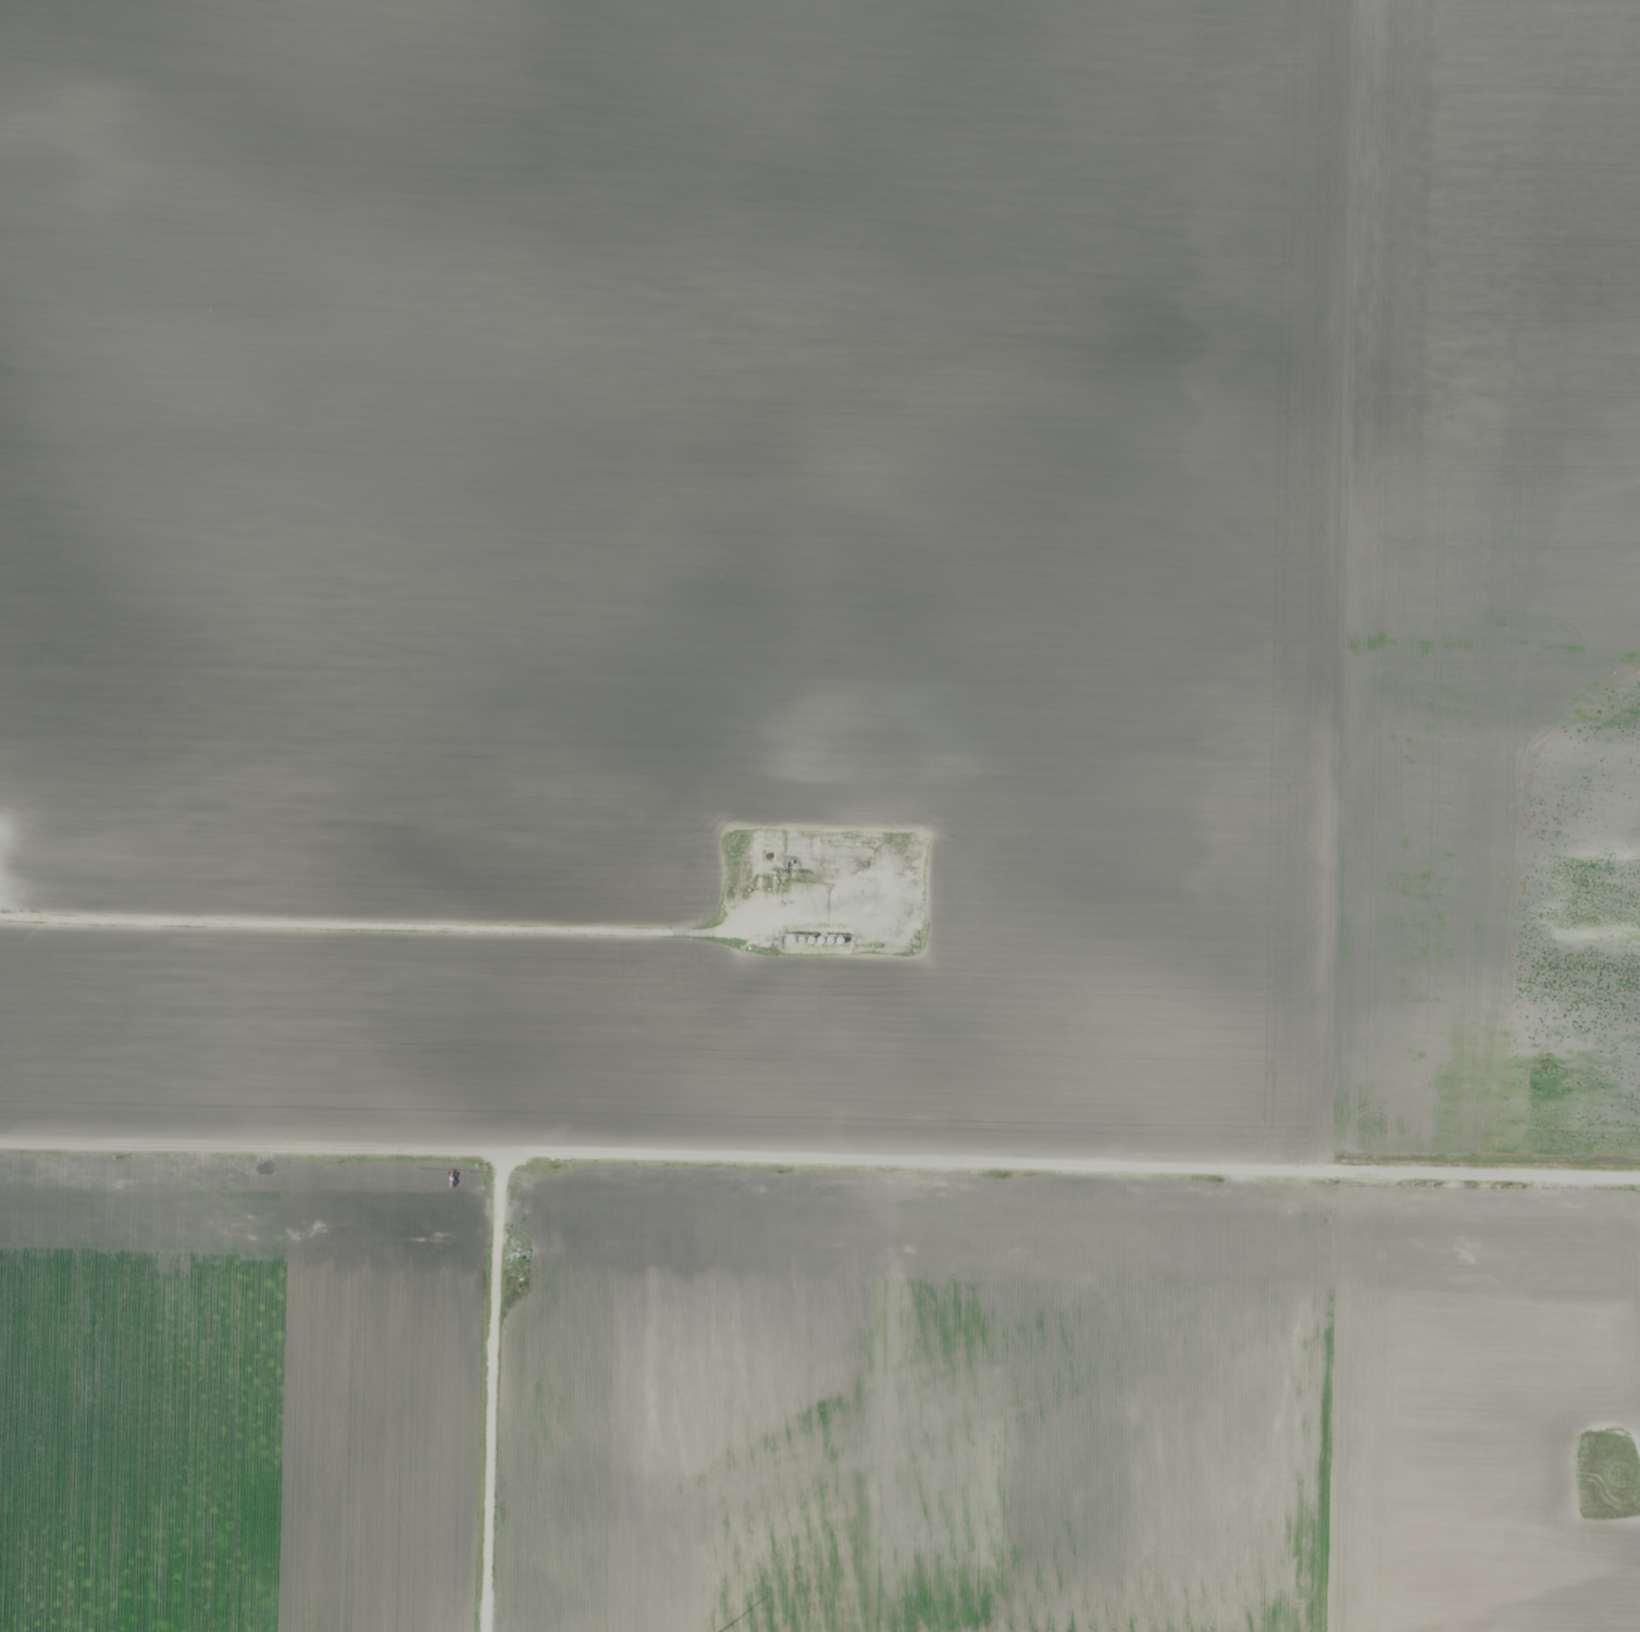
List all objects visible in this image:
road: (821, 899)
road: (368, 924)
road: (819, 1161)
road: (493, 1393)

